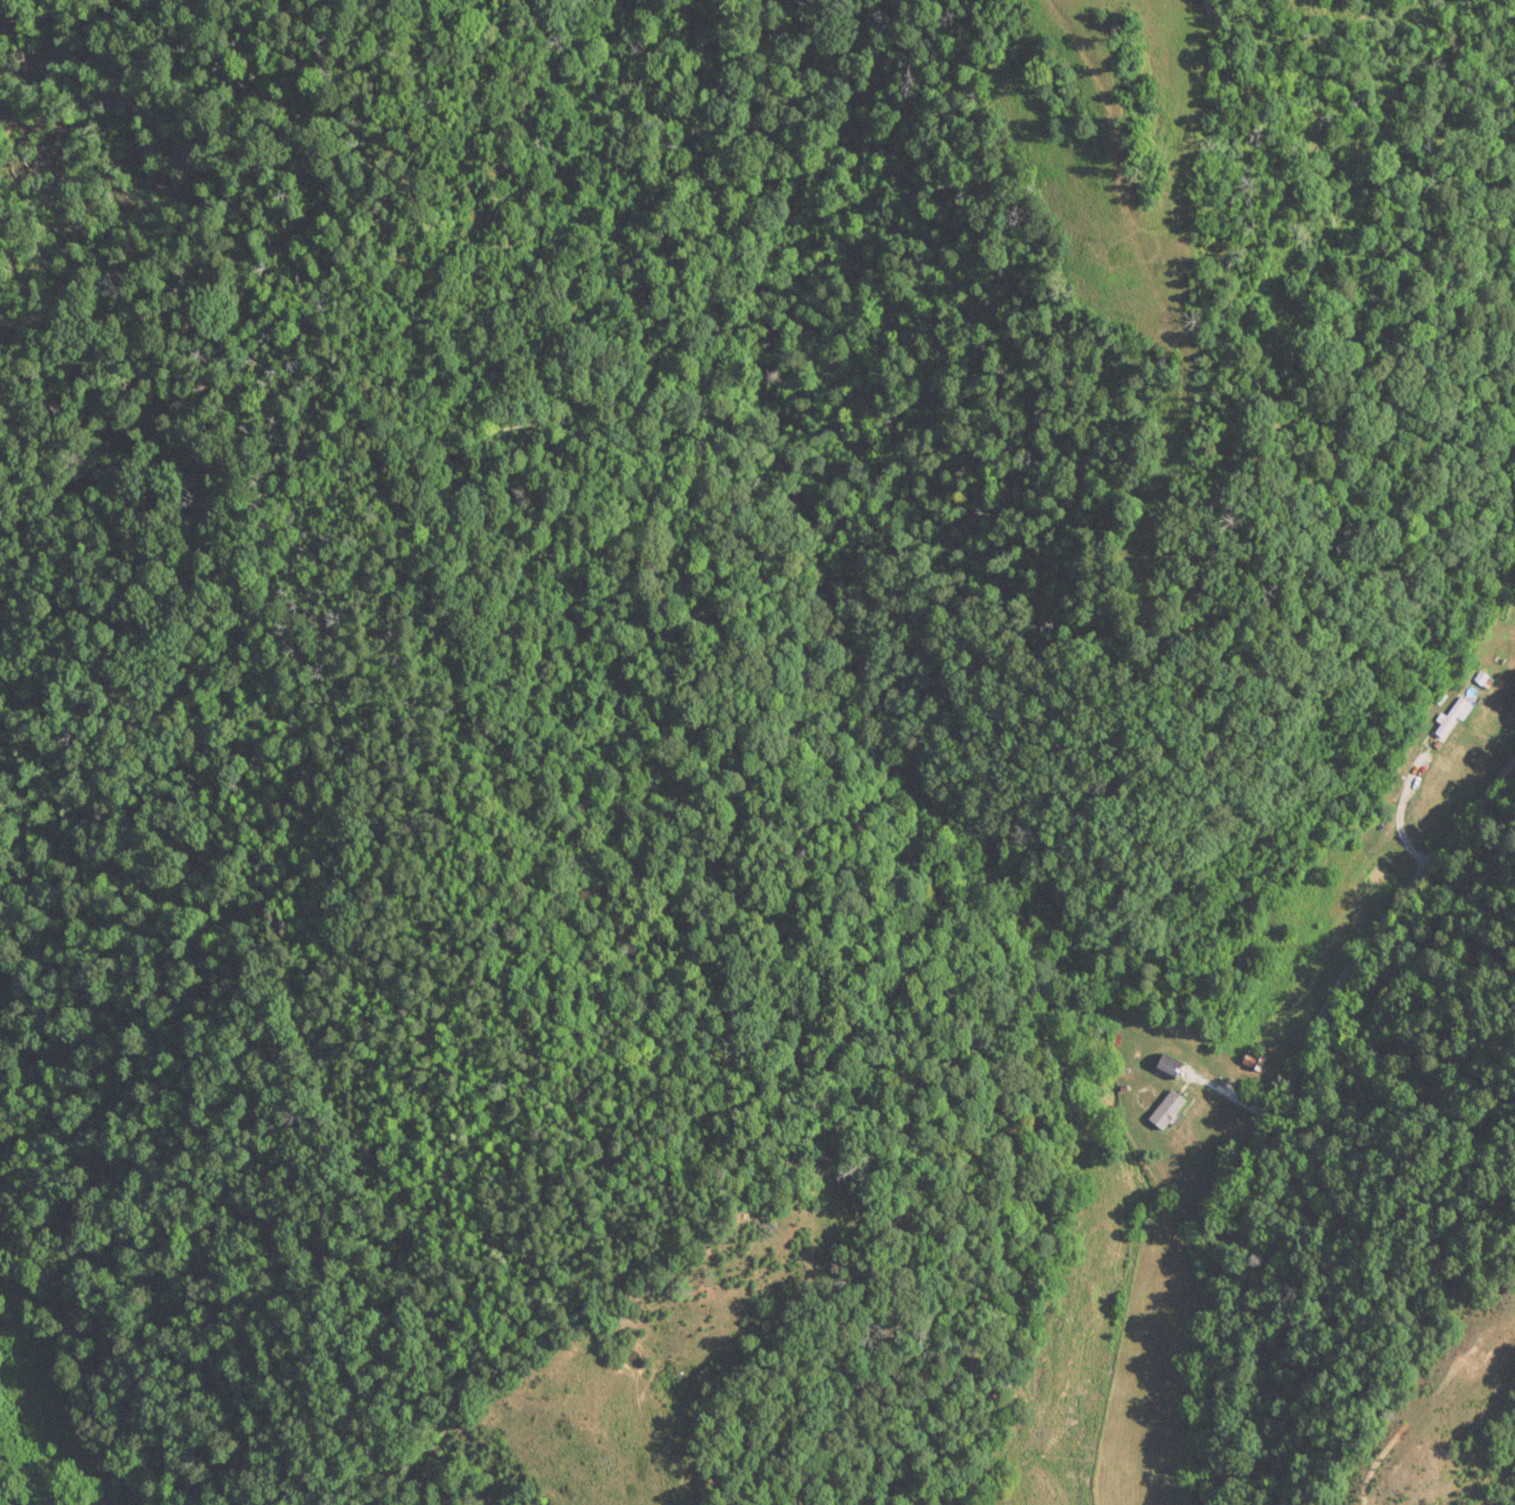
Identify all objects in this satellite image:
building: (1166, 1067)
road: (1285, 1099)
building: (1166, 1110)

